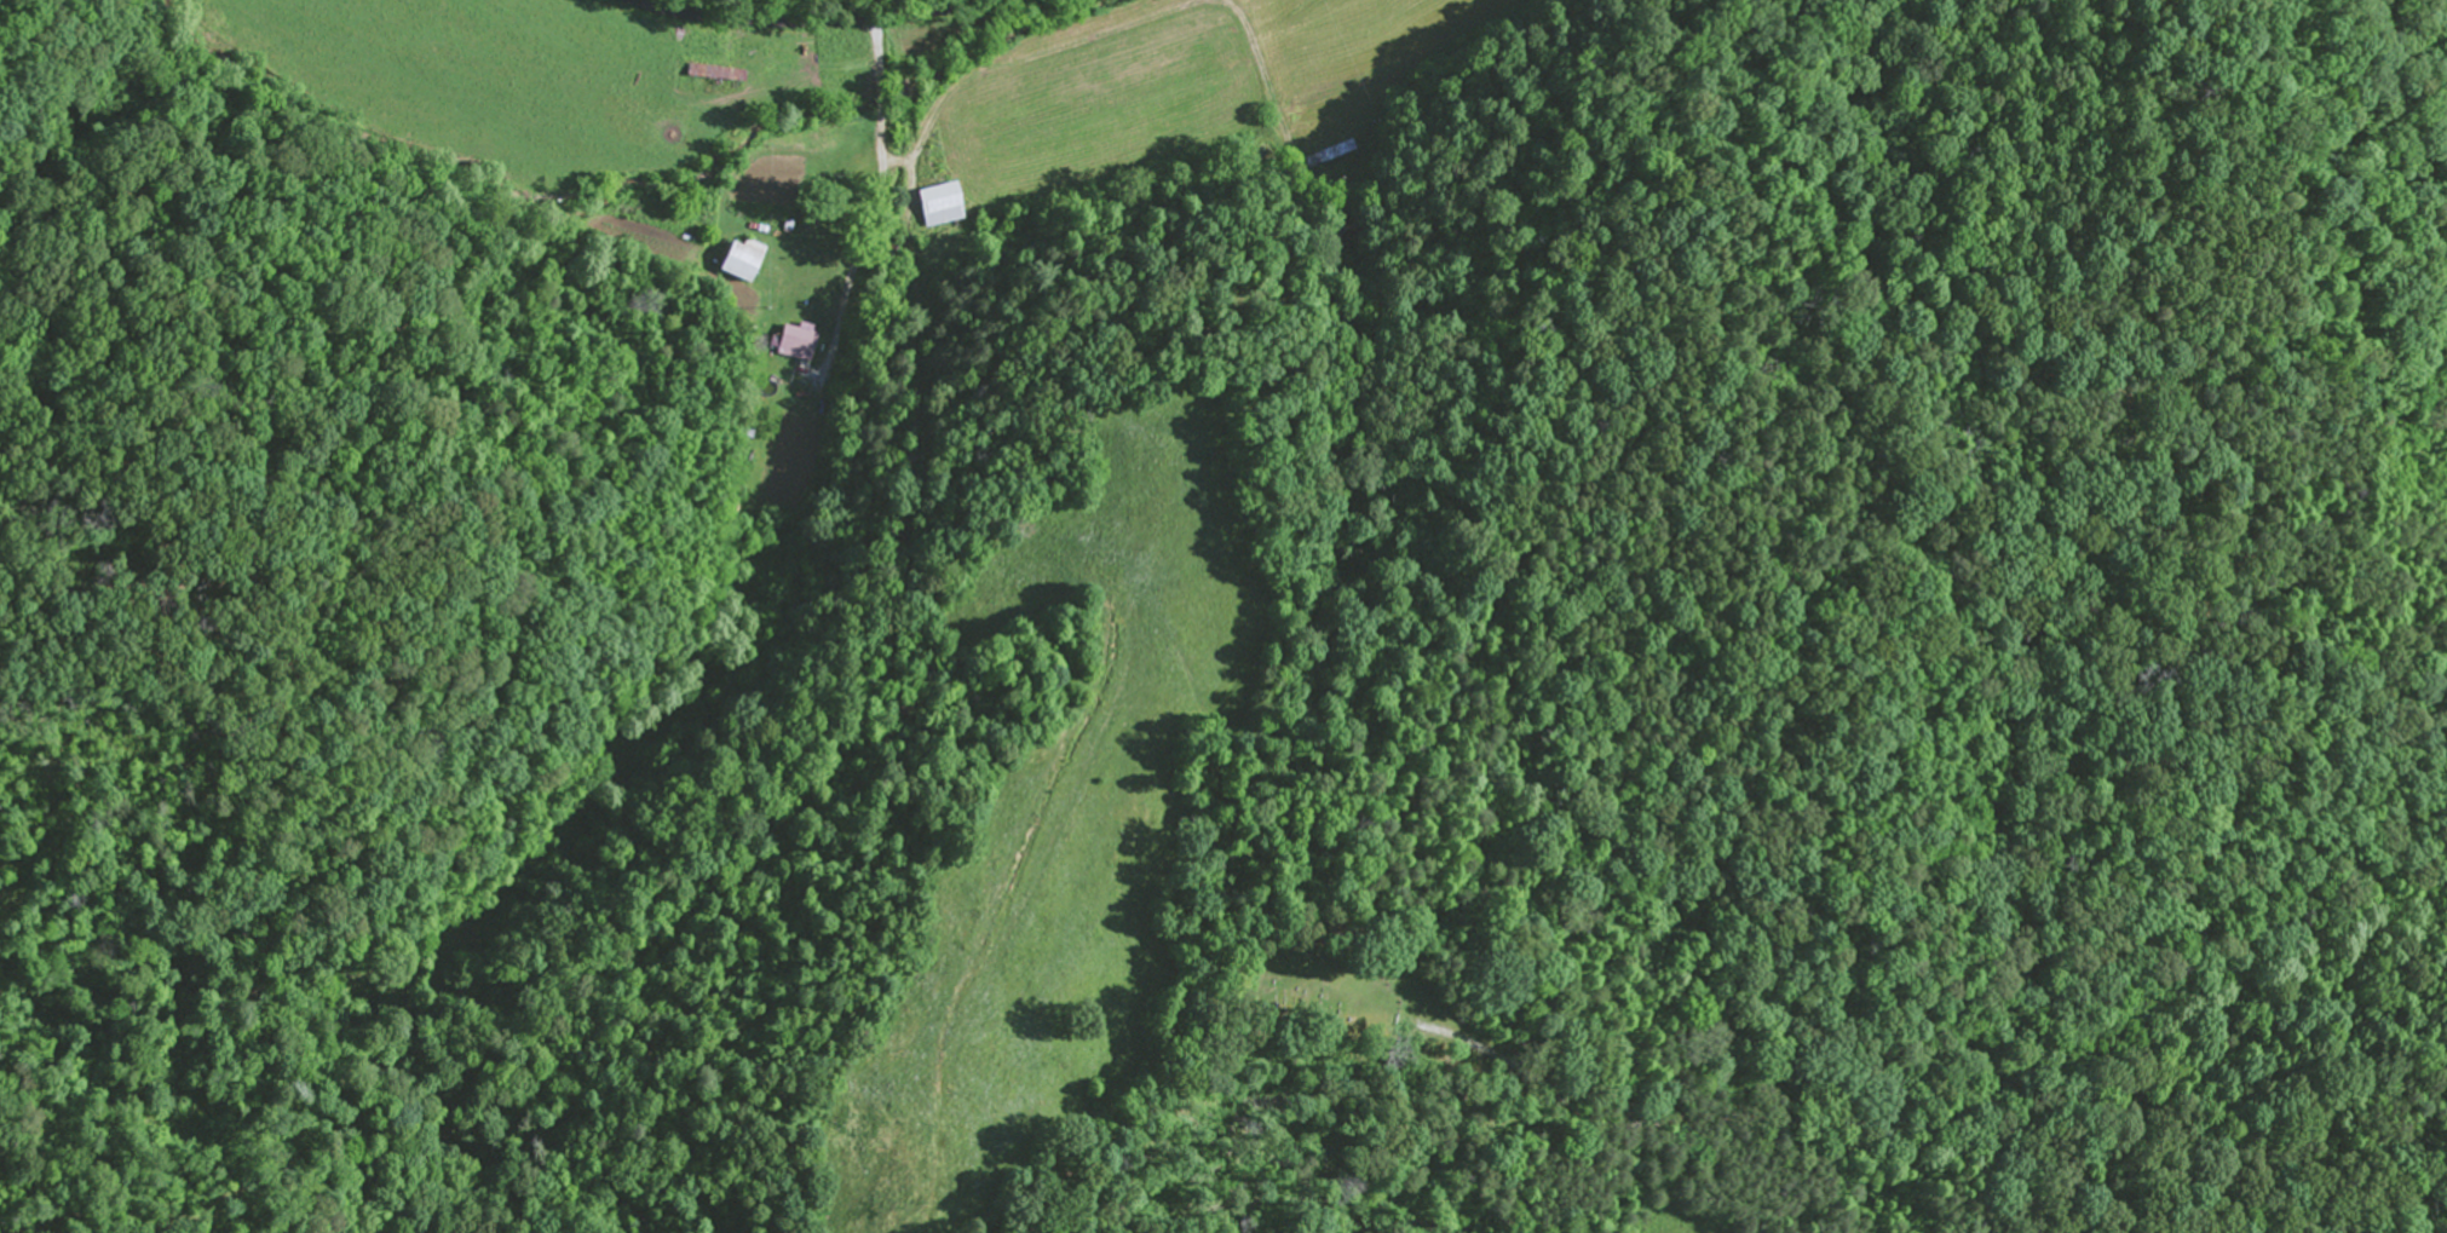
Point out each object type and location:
road: (824, 24)
building: (712, 75)
road: (1260, 148)
building: (835, 227)
building: (743, 261)
building: (794, 345)
road: (1945, 1112)

